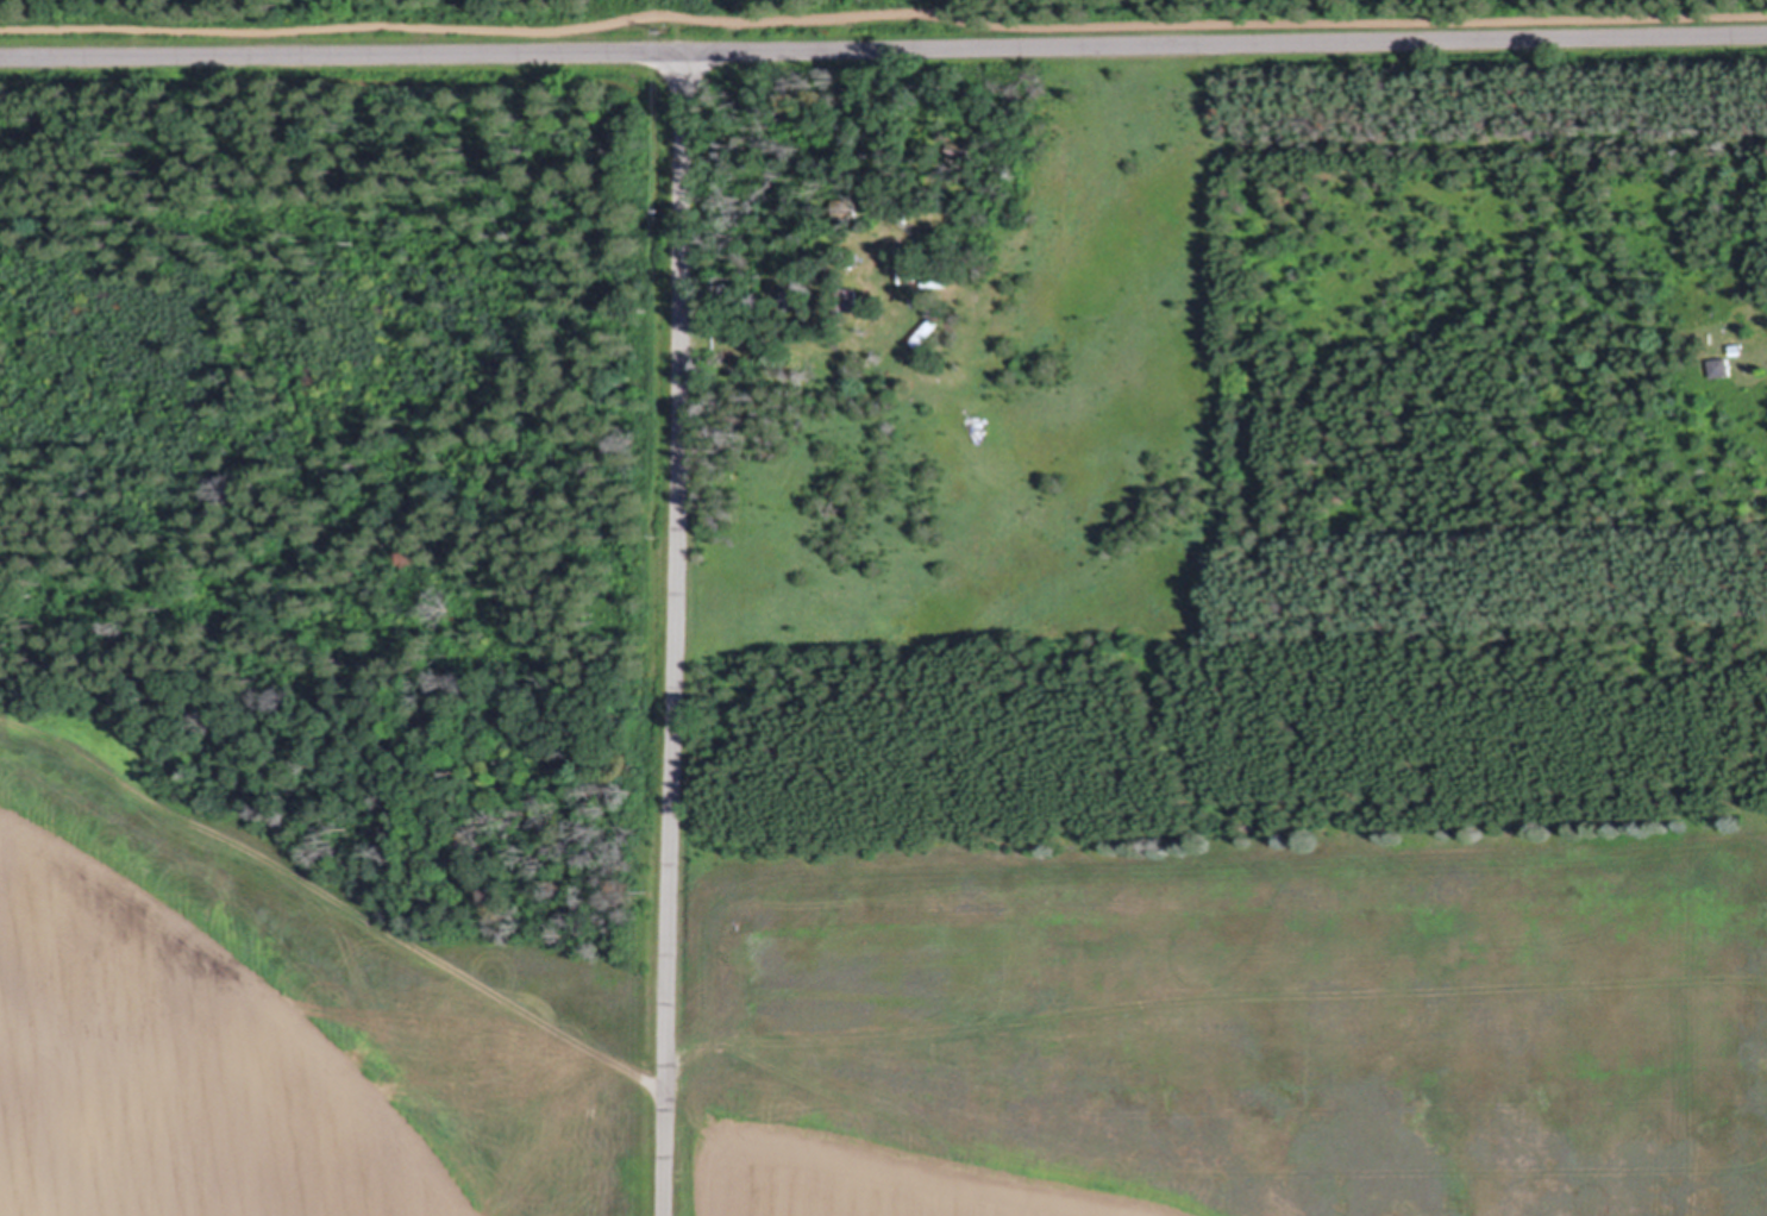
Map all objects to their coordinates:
road: (883, 18)
road: (883, 51)
building: (927, 272)
building: (1725, 369)
road: (679, 635)
crop: (859, 1014)

